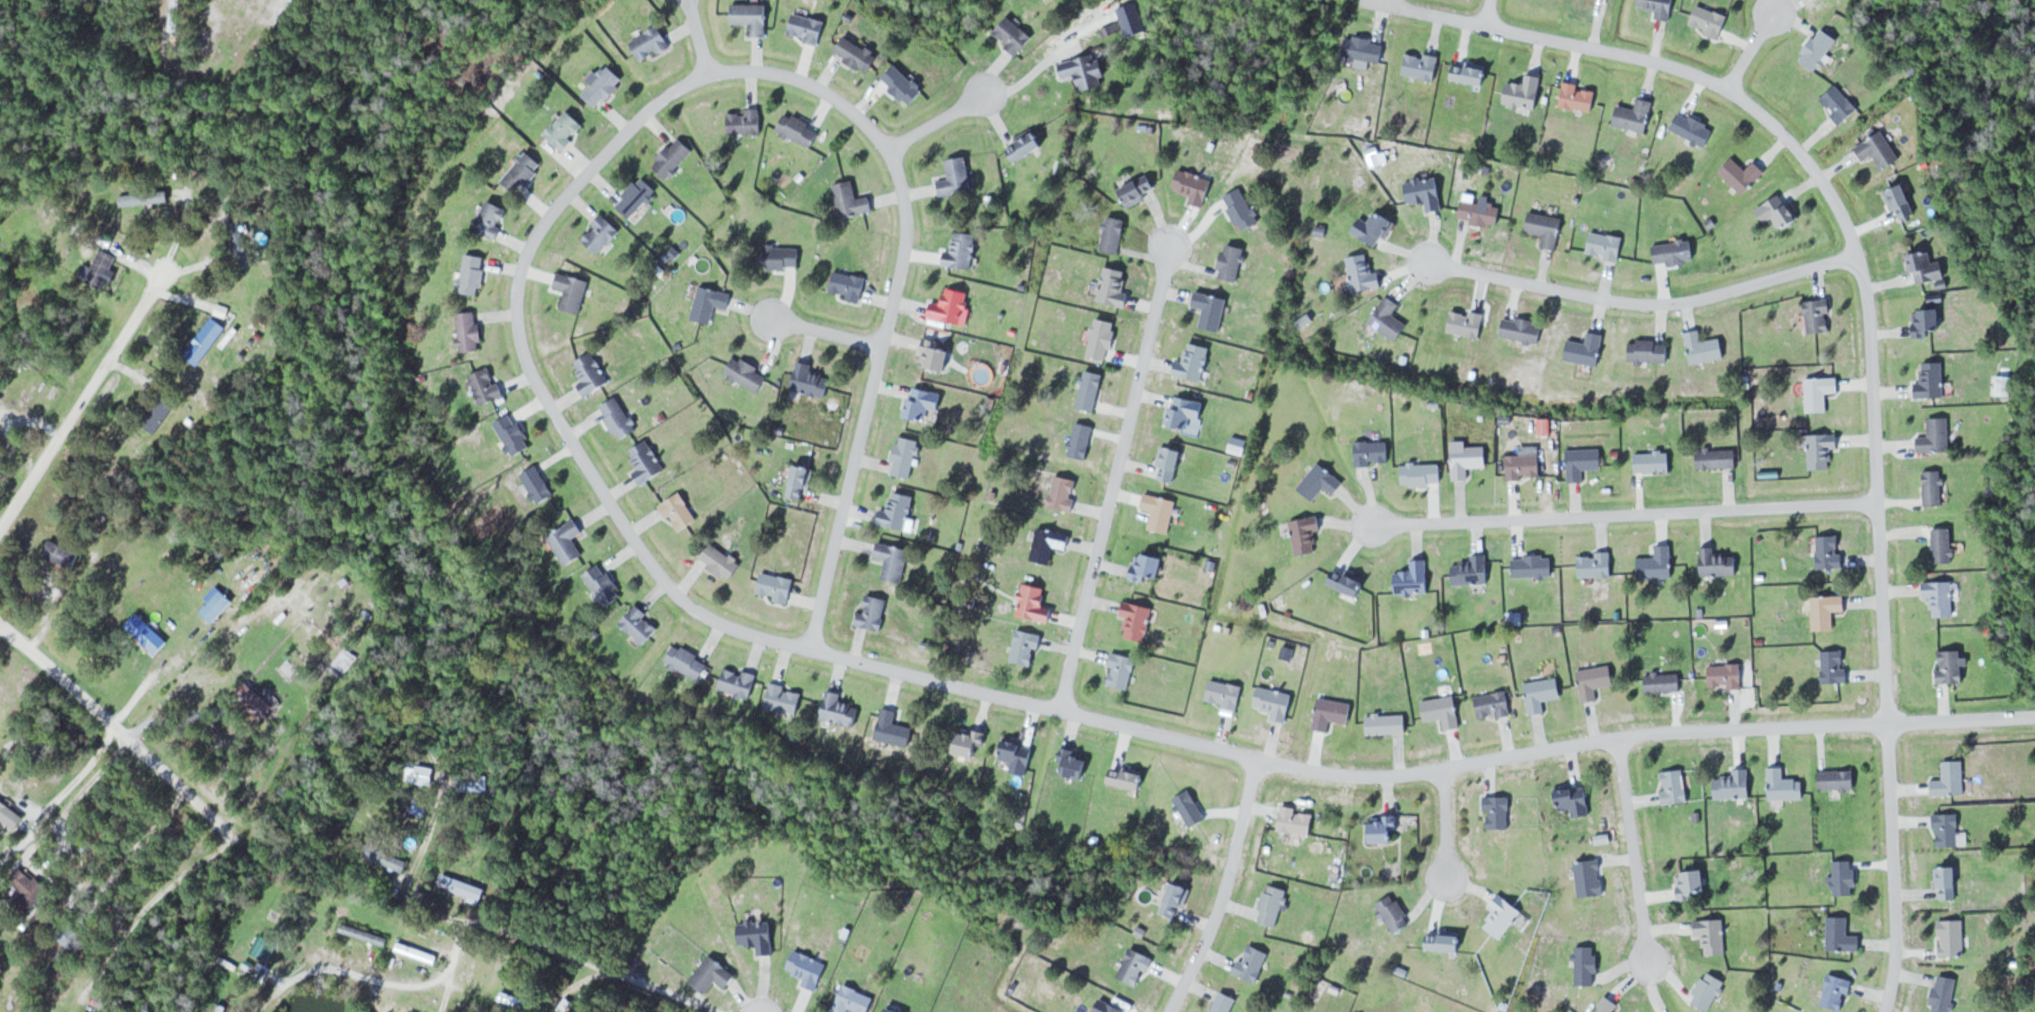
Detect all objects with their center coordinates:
building: (1659, 7)
road: (1489, 13)
building: (751, 16)
building: (1708, 20)
building: (805, 27)
building: (1013, 35)
road: (697, 38)
building: (650, 43)
road: (1750, 48)
building: (1818, 48)
building: (1364, 49)
building: (856, 53)
building: (1420, 65)
building: (1084, 71)
building: (1469, 74)
building: (902, 84)
building: (602, 86)
road: (673, 90)
building: (1523, 91)
building: (1578, 96)
building: (1839, 103)
building: (1633, 115)
road: (938, 120)
building: (744, 121)
building: (1692, 128)
building: (565, 129)
building: (799, 129)
building: (1024, 144)
building: (1878, 149)
building: (672, 157)
building: (522, 172)
building: (1742, 174)
building: (956, 176)
building: (1193, 185)
building: (1138, 189)
building: (1424, 192)
building: (635, 196)
building: (143, 198)
building: (851, 199)
building: (1241, 209)
road: (1838, 209)
building: (1778, 211)
building: (1480, 212)
building: (490, 219)
building: (1374, 228)
building: (1545, 228)
building: (599, 233)
building: (1113, 234)
building: (239, 244)
building: (1605, 246)
building: (962, 251)
building: (1673, 252)
building: (780, 257)
building: (1231, 262)
building: (1927, 267)
building: (103, 270)
building: (1362, 273)
building: (472, 274)
building: (848, 284)
building: (1113, 287)
building: (572, 291)
road: (1644, 302)
building: (710, 303)
building: (952, 306)
building: (1210, 309)
building: (1817, 315)
building: (1388, 319)
building: (1926, 321)
building: (1466, 323)
building: (1521, 329)
building: (469, 330)
road: (824, 332)
building: (1102, 338)
building: (205, 340)
building: (1703, 347)
building: (1586, 350)
building: (1649, 350)
building: (934, 354)
building: (1193, 362)
building: (746, 373)
building: (591, 374)
building: (810, 379)
building: (1931, 380)
building: (486, 385)
building: (1090, 390)
building: (1819, 392)
road: (84, 395)
building: (923, 402)
building: (1185, 411)
building: (157, 414)
building: (618, 417)
building: (513, 433)
building: (1936, 435)
building: (1081, 440)
building: (1821, 450)
building: (1372, 452)
building: (905, 456)
building: (1716, 457)
building: (1468, 460)
building: (1652, 461)
building: (646, 462)
building: (1583, 462)
building: (1168, 463)
building: (1524, 466)
road: (1113, 474)
building: (1421, 474)
building: (799, 481)
building: (1320, 481)
building: (538, 483)
building: (1933, 487)
building: (1063, 492)
building: (897, 510)
building: (679, 511)
building: (1160, 511)
road: (1624, 512)
building: (1305, 534)
building: (567, 541)
building: (1048, 544)
building: (1943, 544)
building: (1829, 551)
building: (61, 553)
building: (720, 560)
building: (893, 560)
building: (1717, 562)
building: (1657, 563)
building: (1595, 564)
building: (1532, 565)
building: (1146, 566)
building: (1472, 570)
building: (1413, 578)
building: (1347, 581)
building: (603, 584)
building: (775, 586)
building: (1940, 596)
building: (1034, 603)
building: (1825, 610)
building: (872, 612)
building: (1137, 620)
building: (640, 624)
building: (145, 633)
building: (1025, 647)
building: (687, 661)
building: (1833, 666)
building: (1950, 666)
building: (1121, 670)
building: (1725, 675)
building: (738, 681)
building: (1594, 681)
building: (1662, 681)
building: (1224, 693)
building: (1542, 693)
building: (785, 698)
building: (258, 700)
building: (1274, 702)
building: (1493, 705)
building: (840, 709)
building: (1442, 711)
building: (1332, 713)
building: (1386, 723)
building: (894, 729)
road: (118, 731)
building: (970, 743)
building: (1018, 756)
building: (1073, 763)
road: (1417, 771)
building: (420, 775)
building: (1127, 778)
building: (1951, 779)
building: (1836, 781)
building: (1733, 785)
building: (1674, 786)
building: (1784, 786)
building: (1574, 801)
building: (1190, 808)
building: (1497, 812)
building: (10, 815)
building: (1296, 820)
road: (1444, 827)
building: (1384, 829)
building: (1949, 831)
road: (1631, 854)
building: (384, 856)
road: (1893, 868)
building: (1590, 877)
building: (1844, 877)
building: (1690, 883)
building: (1947, 883)
building: (26, 888)
road: (1224, 888)
building: (460, 889)
building: (1174, 900)
building: (1272, 905)
building: (1394, 913)
building: (1502, 916)
building: (363, 934)
building: (1712, 935)
building: (1841, 935)
building: (756, 936)
building: (70, 937)
building: (1952, 937)
building: (1444, 940)
building: (264, 947)
building: (416, 953)
road: (575, 956)
building: (1251, 963)
road: (329, 965)
building: (1586, 965)
building: (1134, 967)
building: (807, 968)
building: (711, 974)
building: (1707, 990)
building: (1837, 992)
building: (1943, 994)
building: (853, 1000)
building: (1224, 1003)
building: (1607, 1005)
building: (1107, 1007)

